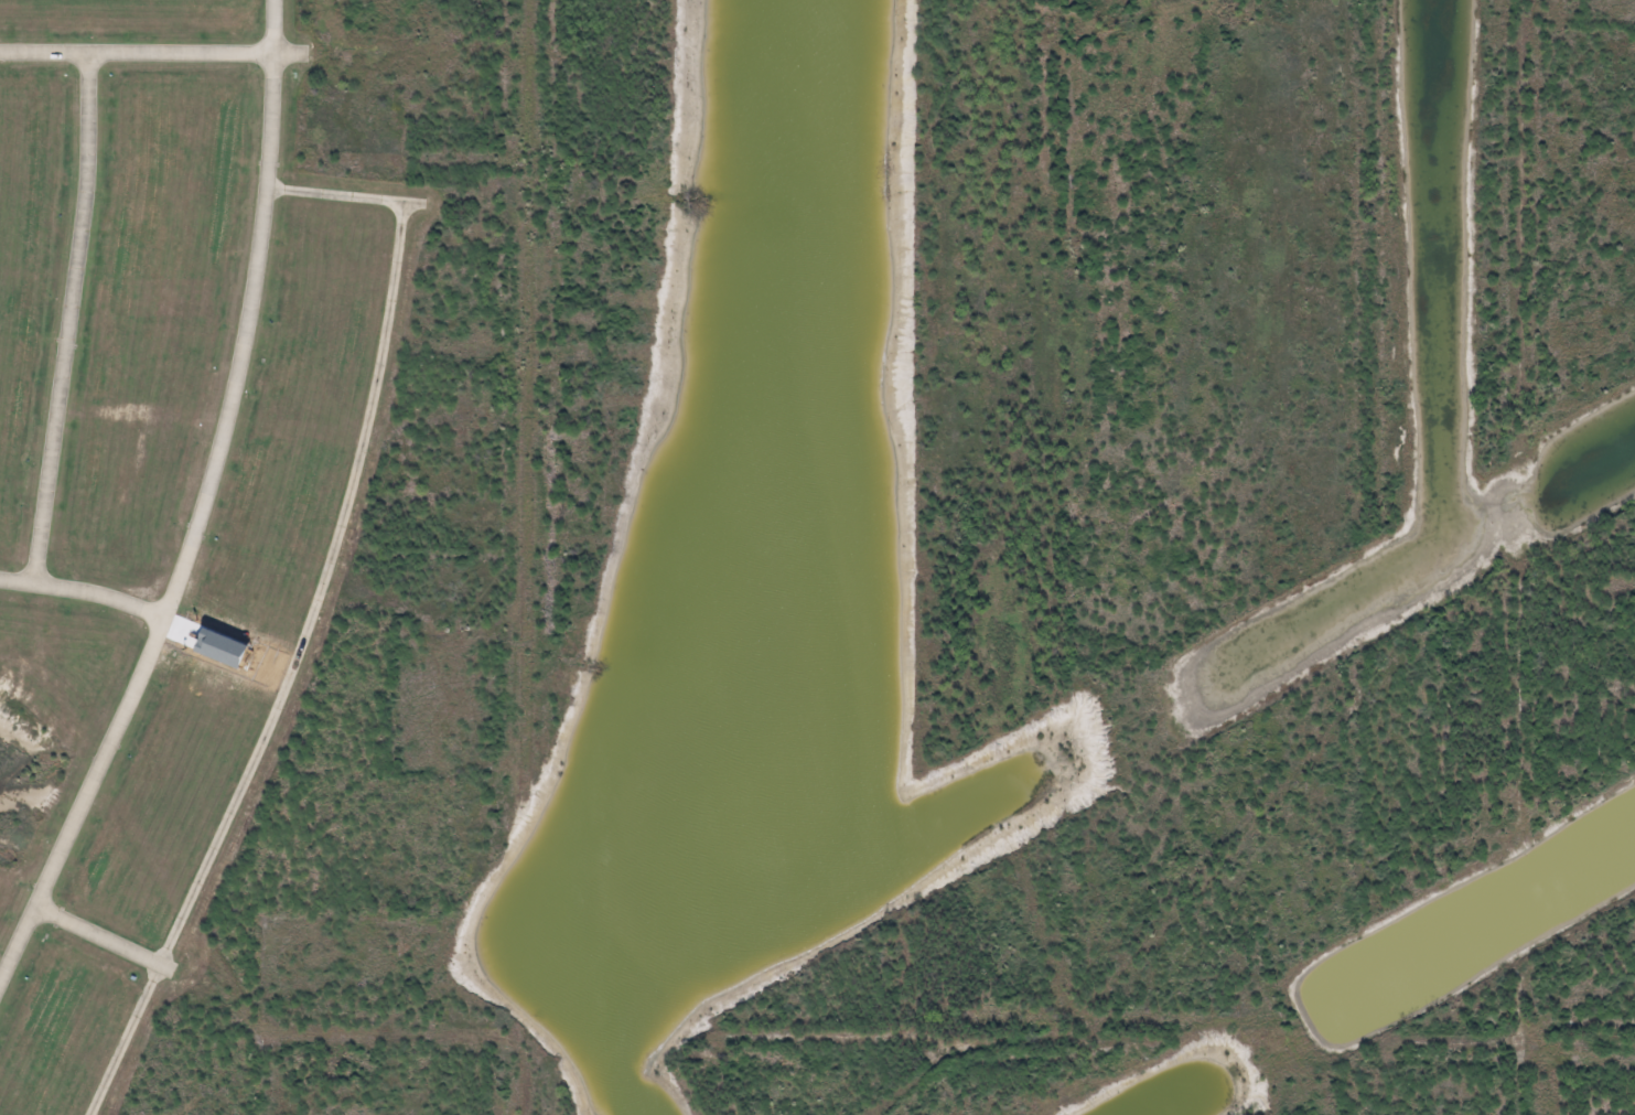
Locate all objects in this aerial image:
road: (136, 52)
road: (66, 317)
road: (197, 505)
road: (83, 589)
road: (314, 608)
building: (219, 648)
road: (96, 936)

